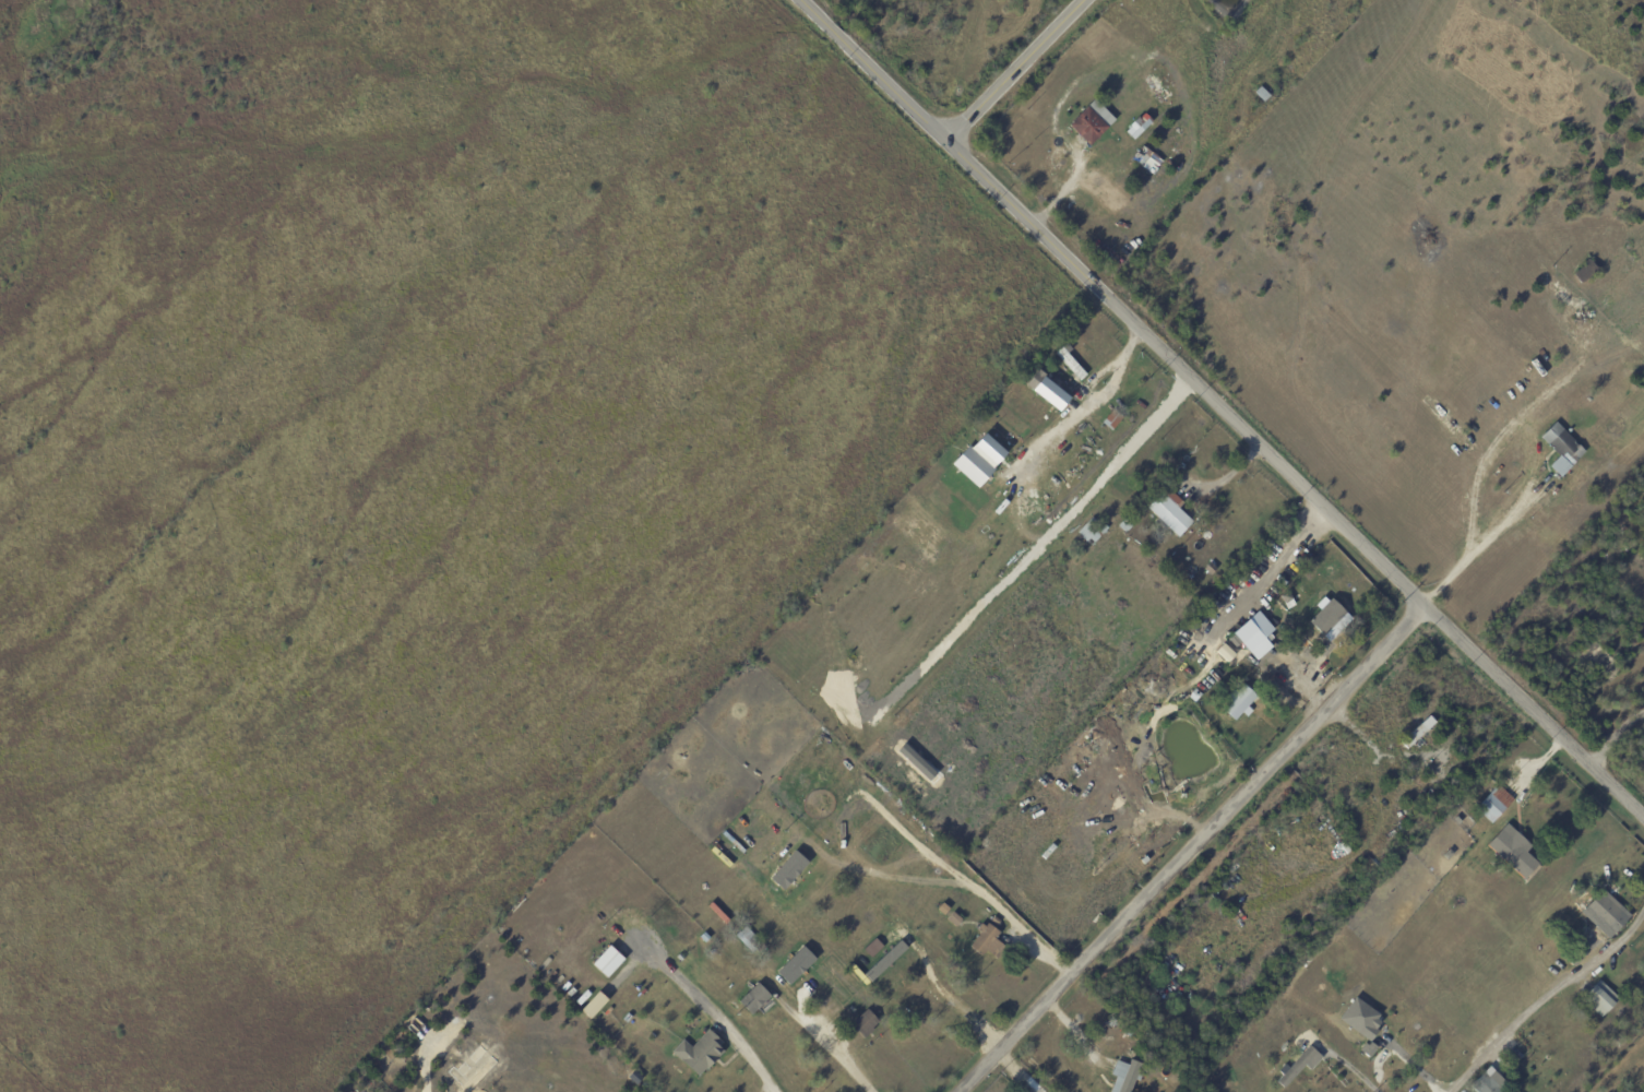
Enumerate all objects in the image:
road: (873, 69)
road: (1013, 69)
building: (1092, 123)
building: (1140, 128)
building: (1587, 272)
building: (1575, 304)
building: (1071, 361)
building: (1045, 387)
road: (1089, 406)
building: (1593, 412)
building: (1113, 420)
building: (1563, 449)
building: (976, 464)
building: (1183, 466)
road: (1295, 482)
building: (1557, 491)
building: (1170, 513)
building: (1125, 526)
building: (1093, 531)
road: (1481, 547)
building: (1303, 562)
building: (1212, 570)
building: (1634, 574)
building: (1284, 584)
building: (1287, 596)
building: (1329, 618)
building: (1196, 622)
building: (1244, 636)
building: (1231, 664)
building: (1199, 684)
building: (1237, 704)
building: (1111, 731)
building: (1419, 732)
road: (1613, 739)
building: (1496, 804)
building: (1144, 807)
road: (1192, 850)
building: (1517, 851)
building: (930, 856)
building: (1146, 859)
building: (978, 870)
building: (1605, 910)
building: (1001, 917)
building: (954, 918)
building: (751, 941)
building: (988, 941)
building: (892, 958)
building: (612, 961)
building: (1603, 975)
building: (1620, 975)
building: (1642, 980)
road: (1564, 993)
building: (754, 998)
road: (943, 998)
building: (1601, 998)
building: (598, 1006)
building: (854, 1014)
building: (1366, 1019)
building: (1112, 1022)
building: (865, 1023)
building: (1572, 1025)
building: (693, 1026)
building: (604, 1028)
building: (1420, 1030)
building: (609, 1033)
road: (1058, 1049)
building: (700, 1053)
road: (753, 1060)
building: (1303, 1065)
road: (845, 1067)
road: (1350, 1072)
road: (1416, 1072)
building: (1382, 1073)
building: (1125, 1076)
building: (636, 1079)
road: (1464, 1079)
building: (1485, 1088)

